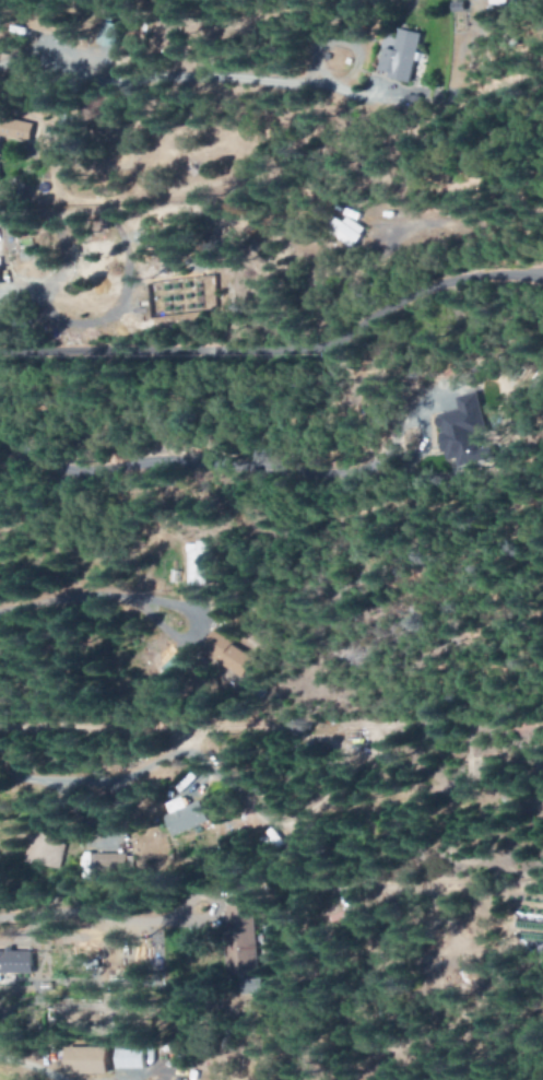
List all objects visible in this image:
building: (48, 22)
building: (115, 35)
building: (16, 130)
building: (346, 231)
building: (1, 275)
building: (0, 319)
building: (461, 431)
building: (197, 564)
building: (228, 653)
building: (187, 815)
building: (51, 841)
building: (239, 937)
building: (17, 962)
building: (91, 1060)

